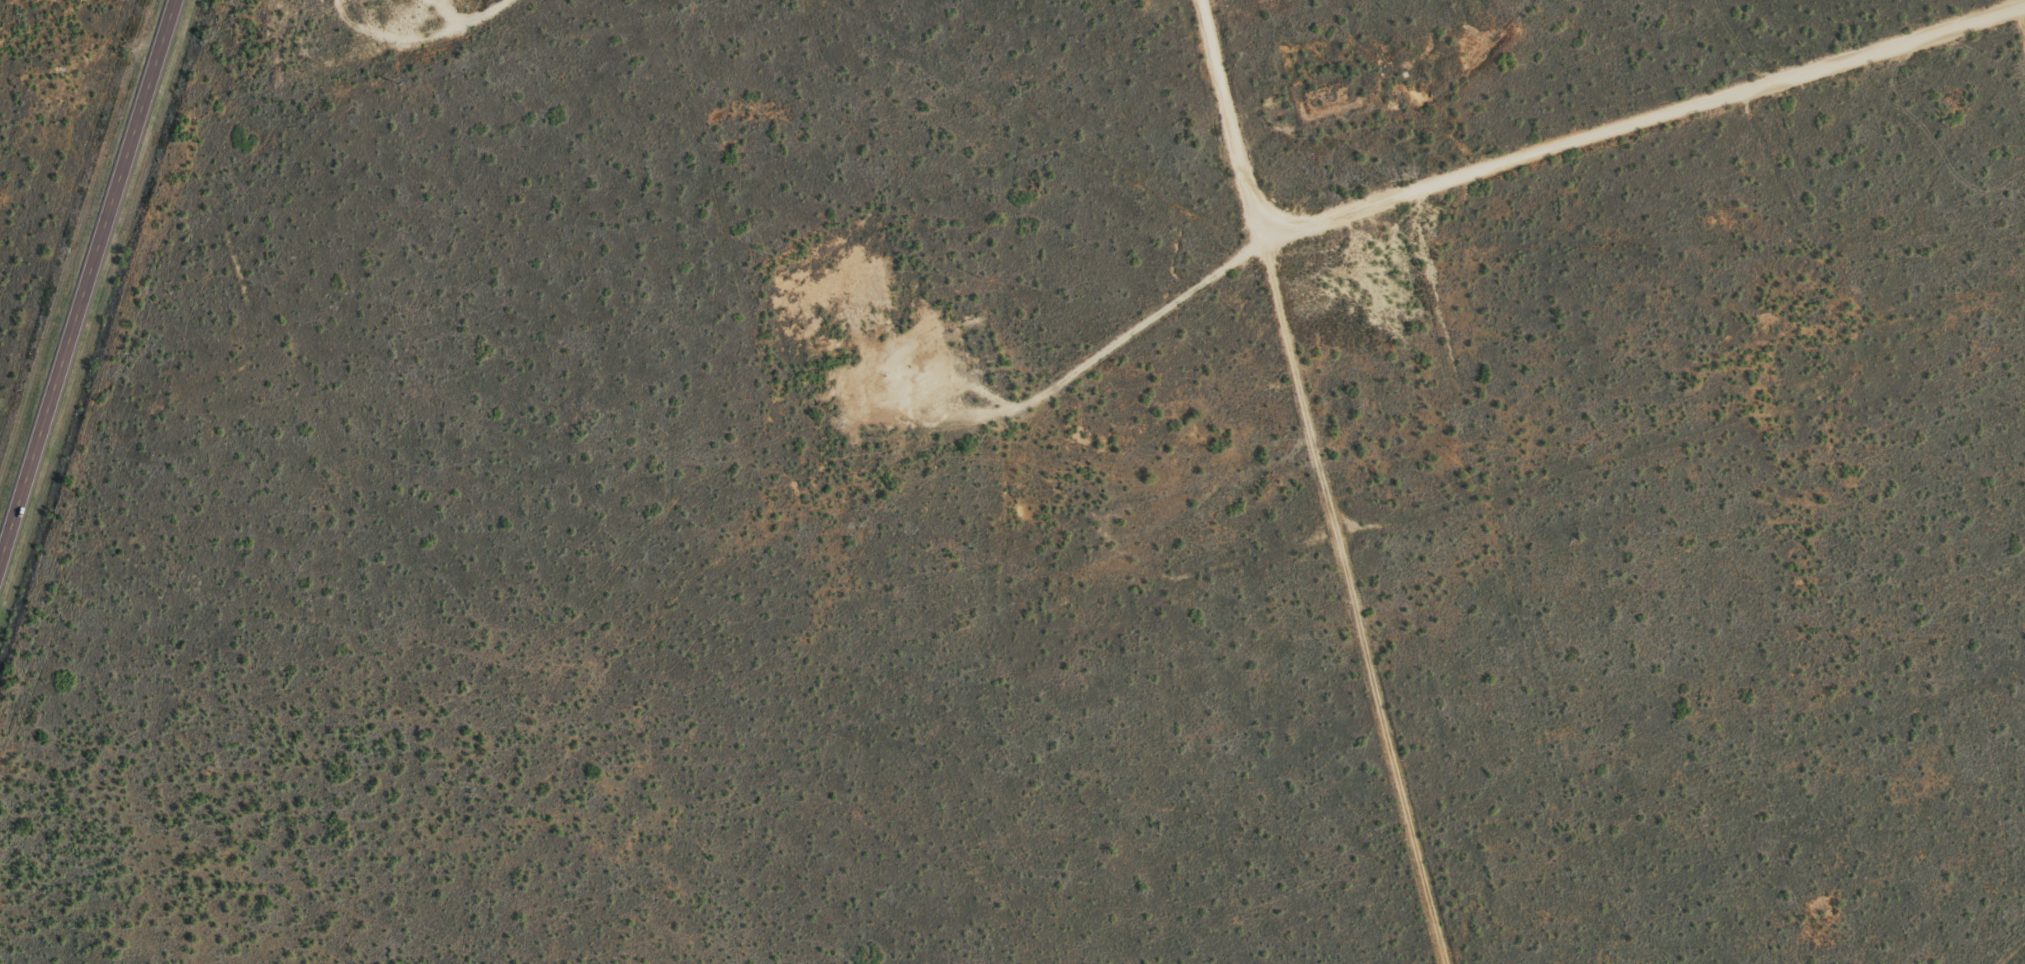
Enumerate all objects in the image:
road: (86, 279)

